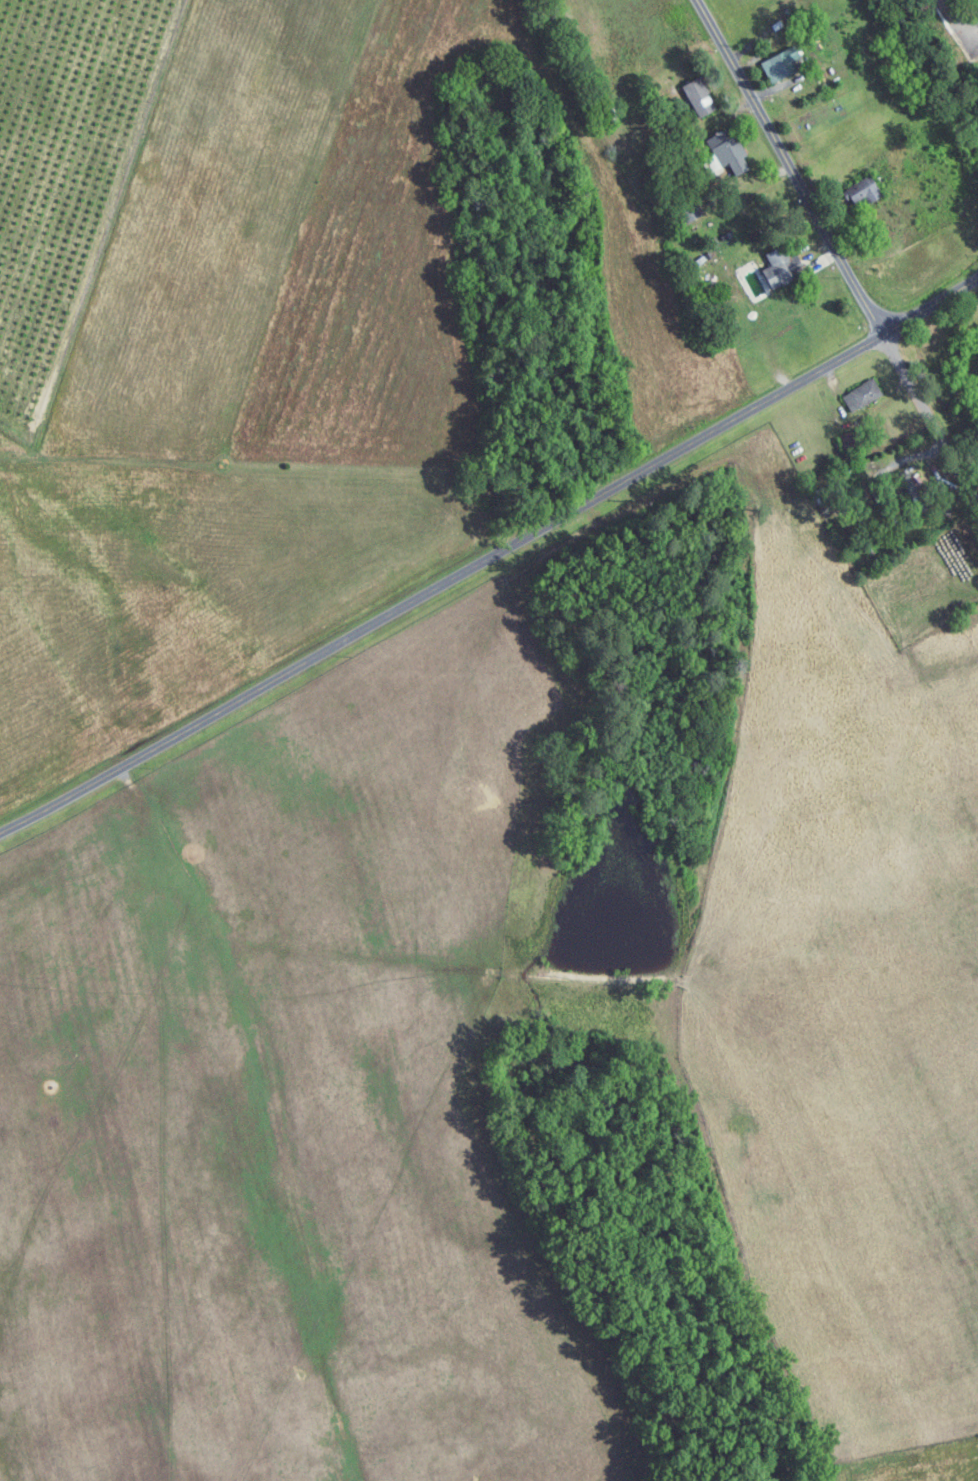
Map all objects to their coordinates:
building: (775, 25)
road: (957, 26)
road: (745, 47)
building: (778, 64)
road: (778, 86)
building: (696, 95)
building: (609, 115)
road: (718, 118)
building: (723, 152)
building: (672, 168)
road: (749, 184)
building: (861, 189)
building: (684, 213)
road: (851, 226)
road: (835, 252)
road: (822, 263)
building: (779, 267)
road: (930, 306)
building: (727, 320)
crop: (203, 348)
road: (834, 380)
building: (861, 394)
building: (850, 440)
road: (966, 455)
road: (907, 456)
road: (442, 584)

